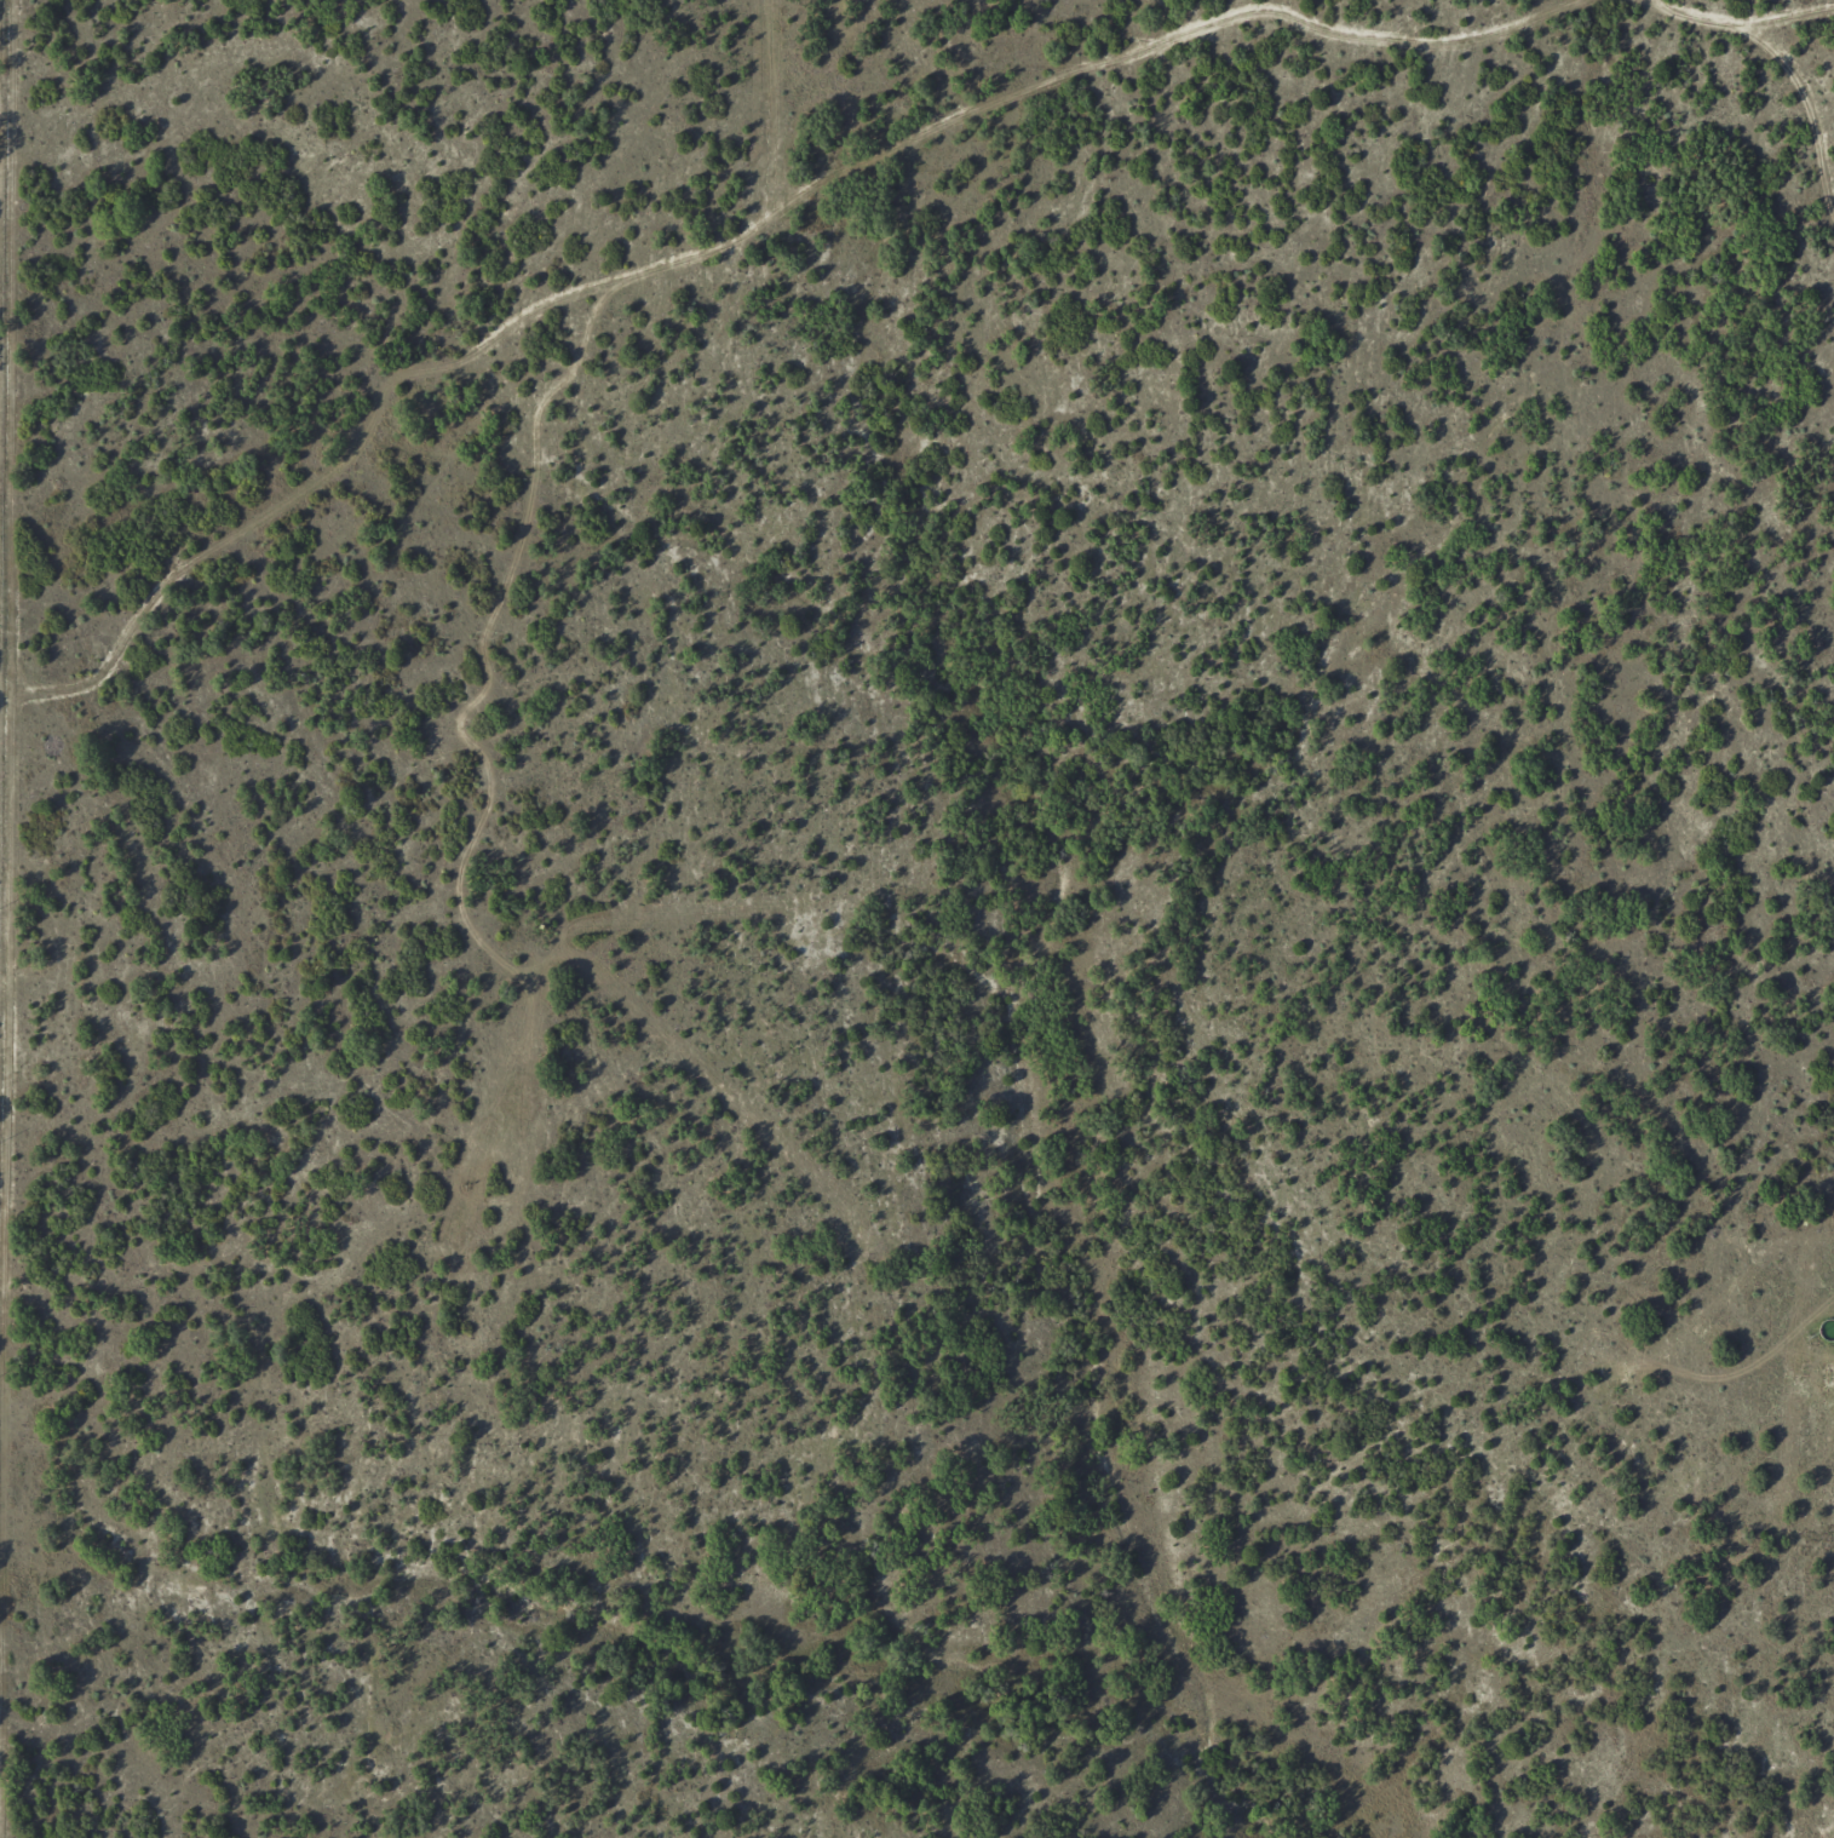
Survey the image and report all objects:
road: (1807, 90)
road: (832, 177)

